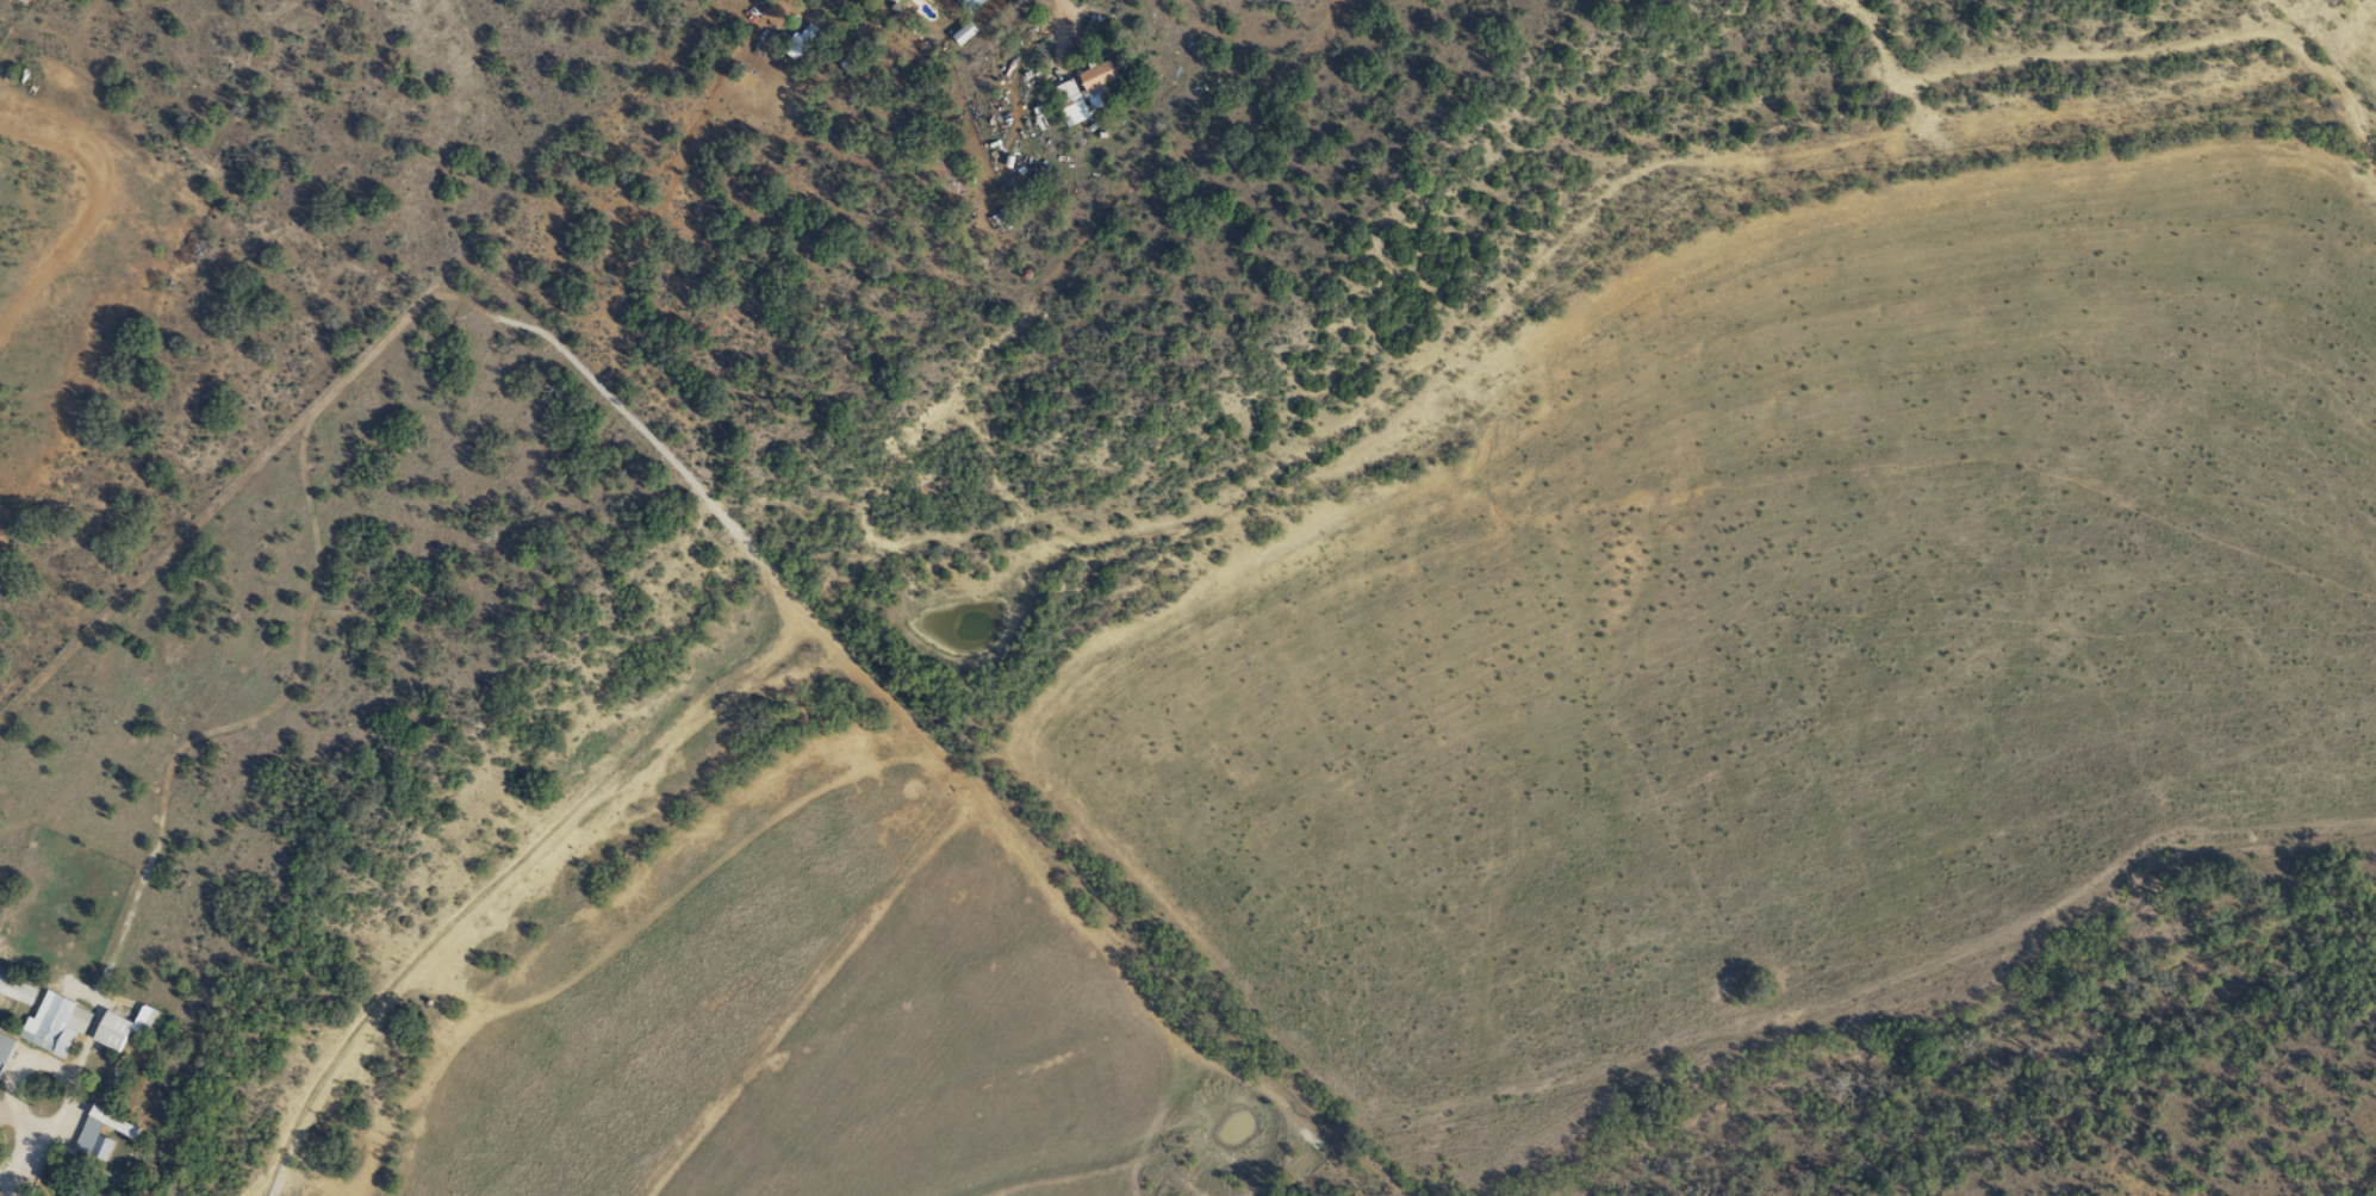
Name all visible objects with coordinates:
building: (891, 0)
building: (966, 5)
road: (1057, 12)
building: (798, 41)
building: (1080, 89)
road: (2166, 198)
road: (2365, 297)
building: (15, 990)
building: (50, 1019)
building: (110, 1029)
building: (4, 1046)
road: (244, 1048)
building: (88, 1136)
building: (71, 1192)

